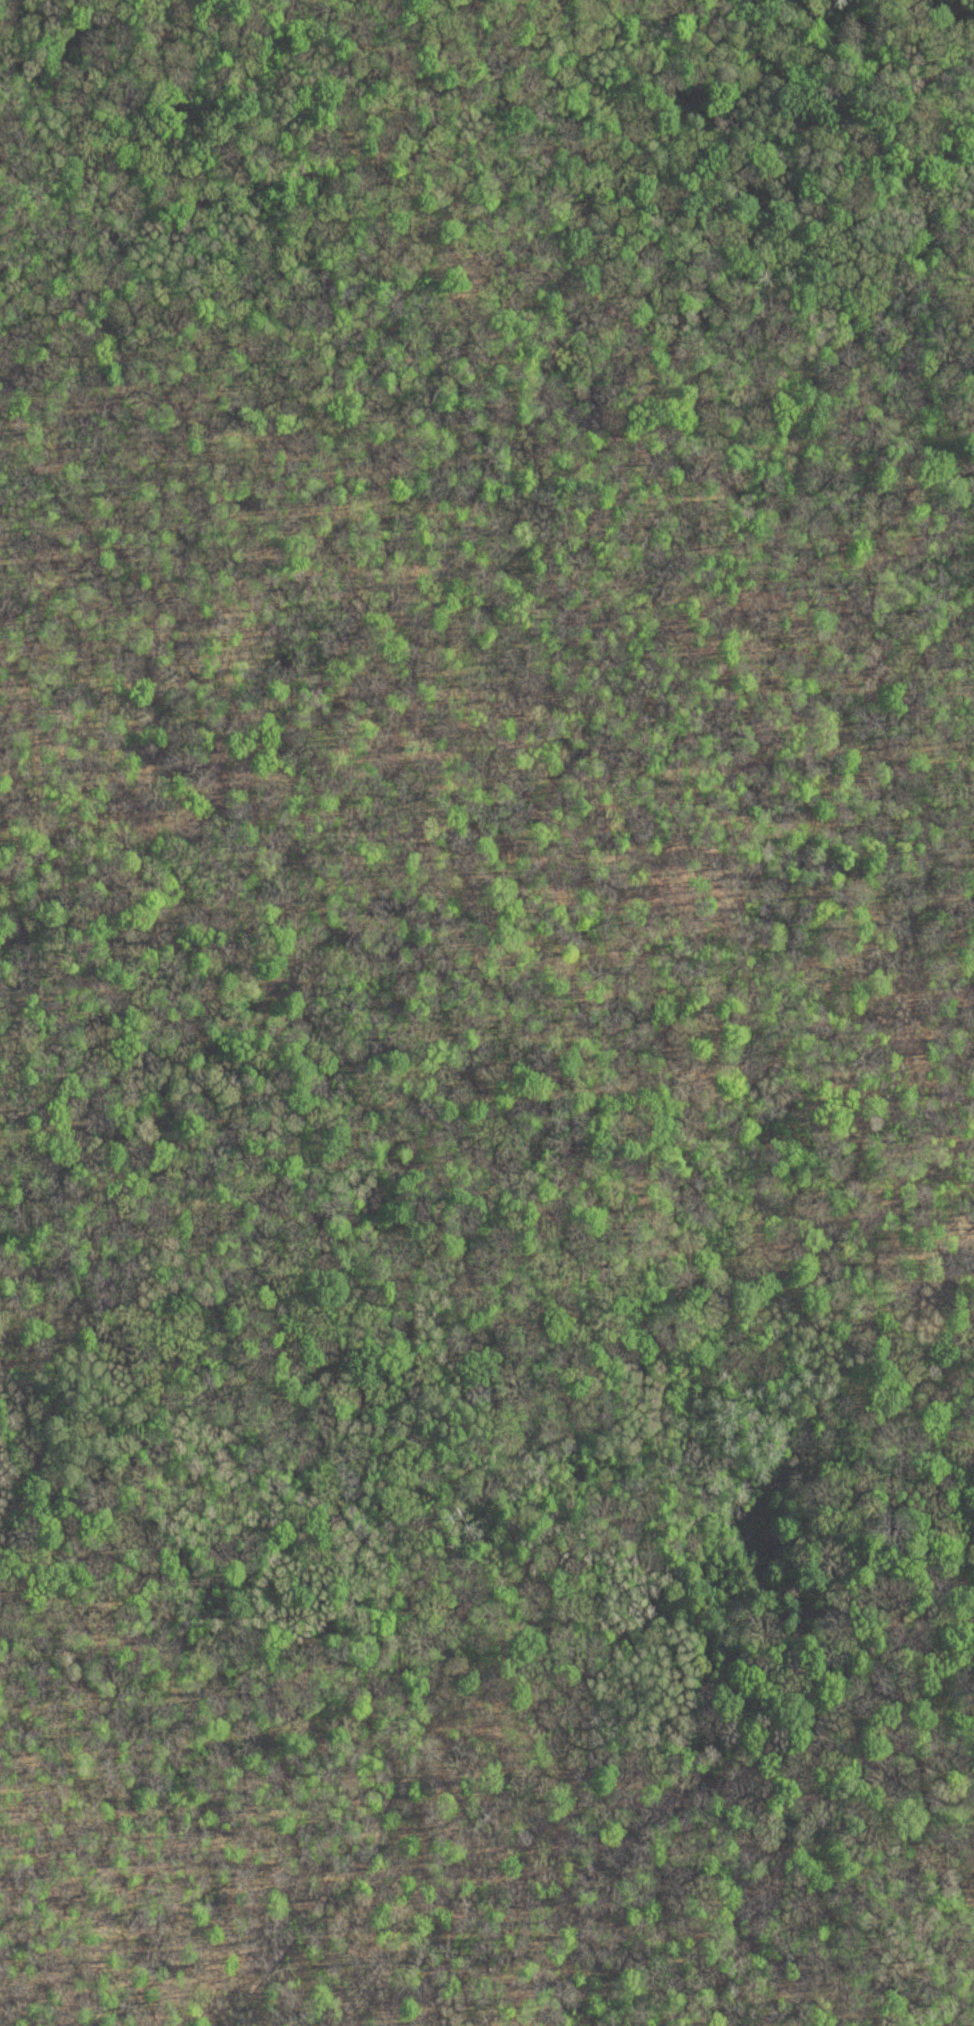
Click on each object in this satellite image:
road: (489, 781)
park: (487, 1013)
road: (280, 1460)
road: (784, 1650)
road: (478, 1755)
road: (359, 1884)

